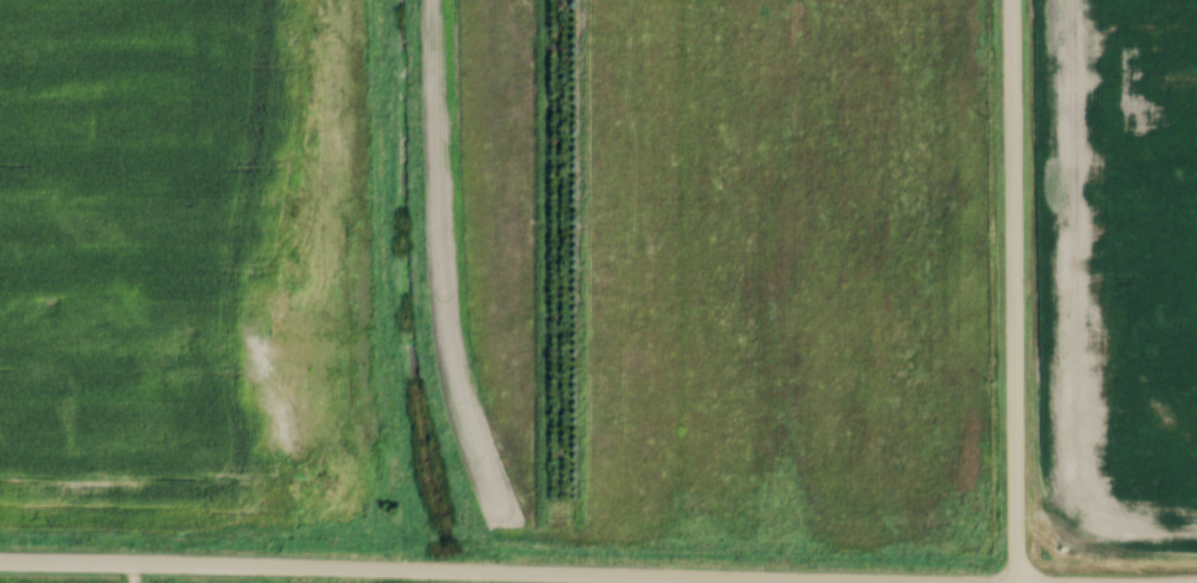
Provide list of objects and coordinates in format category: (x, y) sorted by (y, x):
road: (1012, 290)
road: (406, 571)

